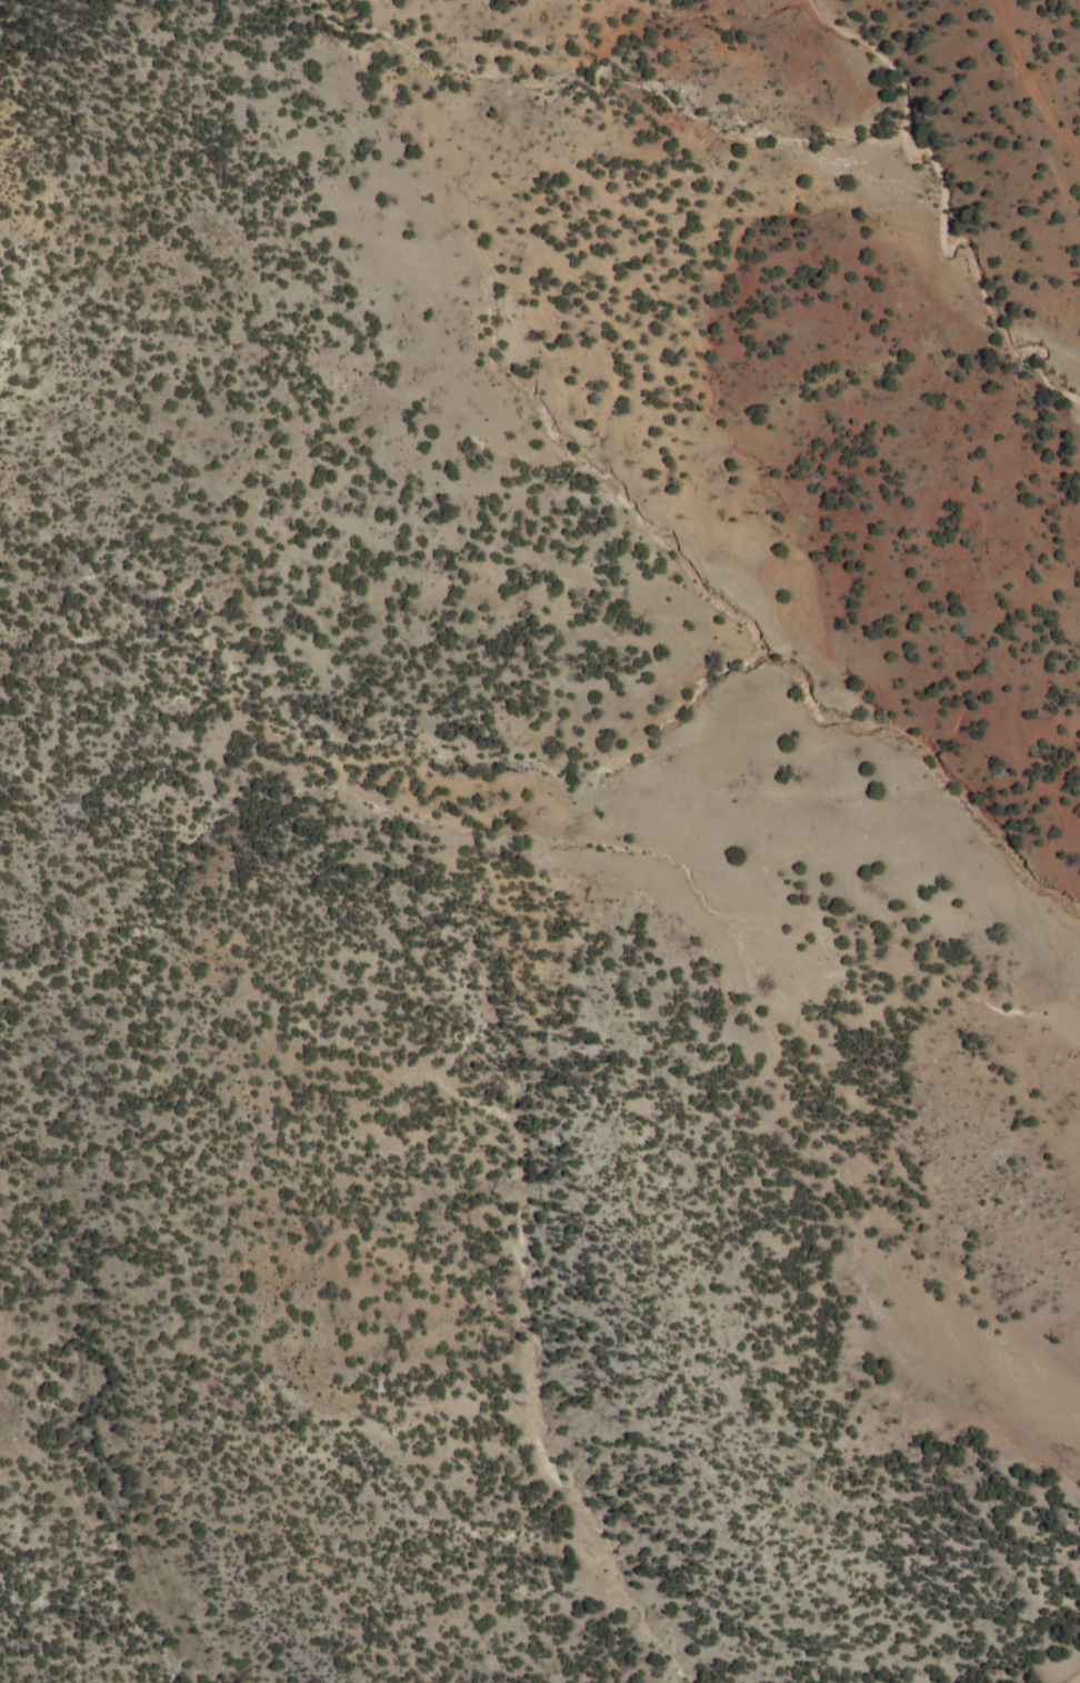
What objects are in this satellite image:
road: (1030, 87)

